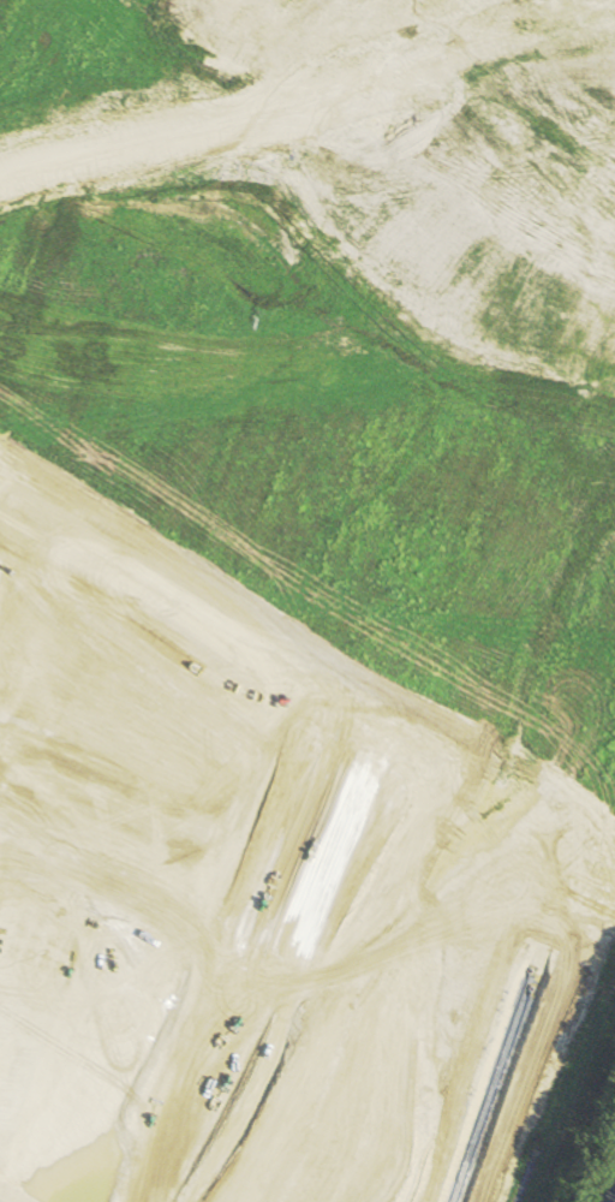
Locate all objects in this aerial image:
road: (611, 1192)

